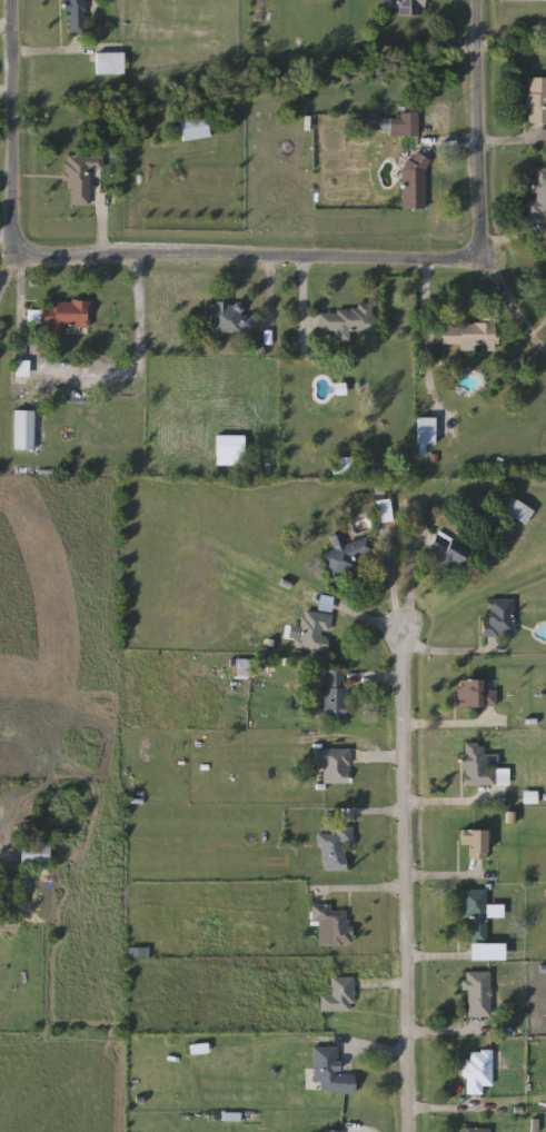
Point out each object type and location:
building: (409, 8)
building: (76, 17)
road: (6, 28)
building: (110, 63)
road: (6, 91)
building: (536, 100)
building: (393, 125)
road: (11, 129)
building: (193, 129)
road: (478, 145)
building: (80, 177)
building: (414, 181)
building: (537, 195)
road: (130, 199)
road: (4, 236)
road: (367, 260)
road: (4, 276)
road: (508, 297)
road: (305, 299)
road: (268, 300)
road: (426, 308)
building: (68, 316)
building: (232, 318)
building: (347, 319)
building: (469, 336)
building: (21, 369)
road: (80, 379)
building: (24, 430)
building: (426, 431)
building: (230, 450)
building: (385, 510)
building: (518, 512)
building: (446, 550)
building: (346, 554)
road: (391, 579)
road: (410, 585)
building: (499, 617)
road: (358, 618)
building: (314, 632)
road: (450, 655)
road: (376, 678)
building: (476, 693)
building: (335, 695)
road: (447, 728)
road: (380, 758)
building: (335, 765)
building: (476, 765)
road: (448, 806)
road: (368, 815)
road: (11, 835)
building: (474, 843)
building: (335, 848)
building: (34, 855)
road: (404, 880)
road: (441, 880)
road: (356, 893)
building: (475, 912)
building: (334, 924)
road: (443, 957)
road: (383, 986)
building: (479, 995)
building: (339, 996)
road: (449, 1033)
road: (375, 1055)
building: (479, 1071)
building: (331, 1073)
road: (477, 1109)
building: (474, 1130)
building: (329, 1131)

